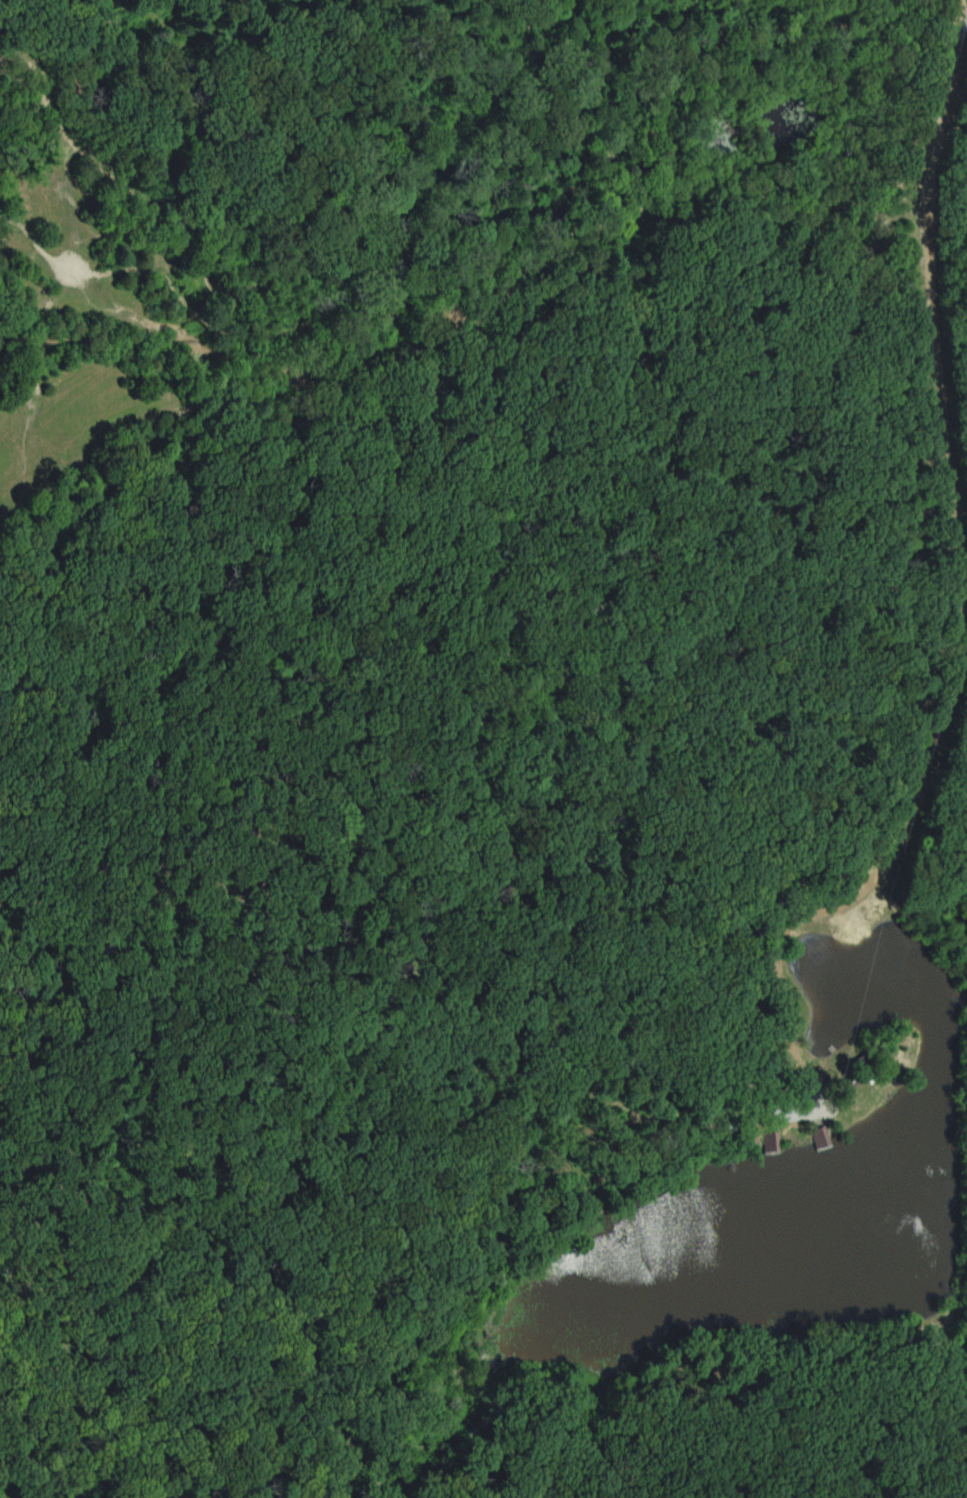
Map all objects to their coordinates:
building: (819, 1136)
building: (768, 1141)

